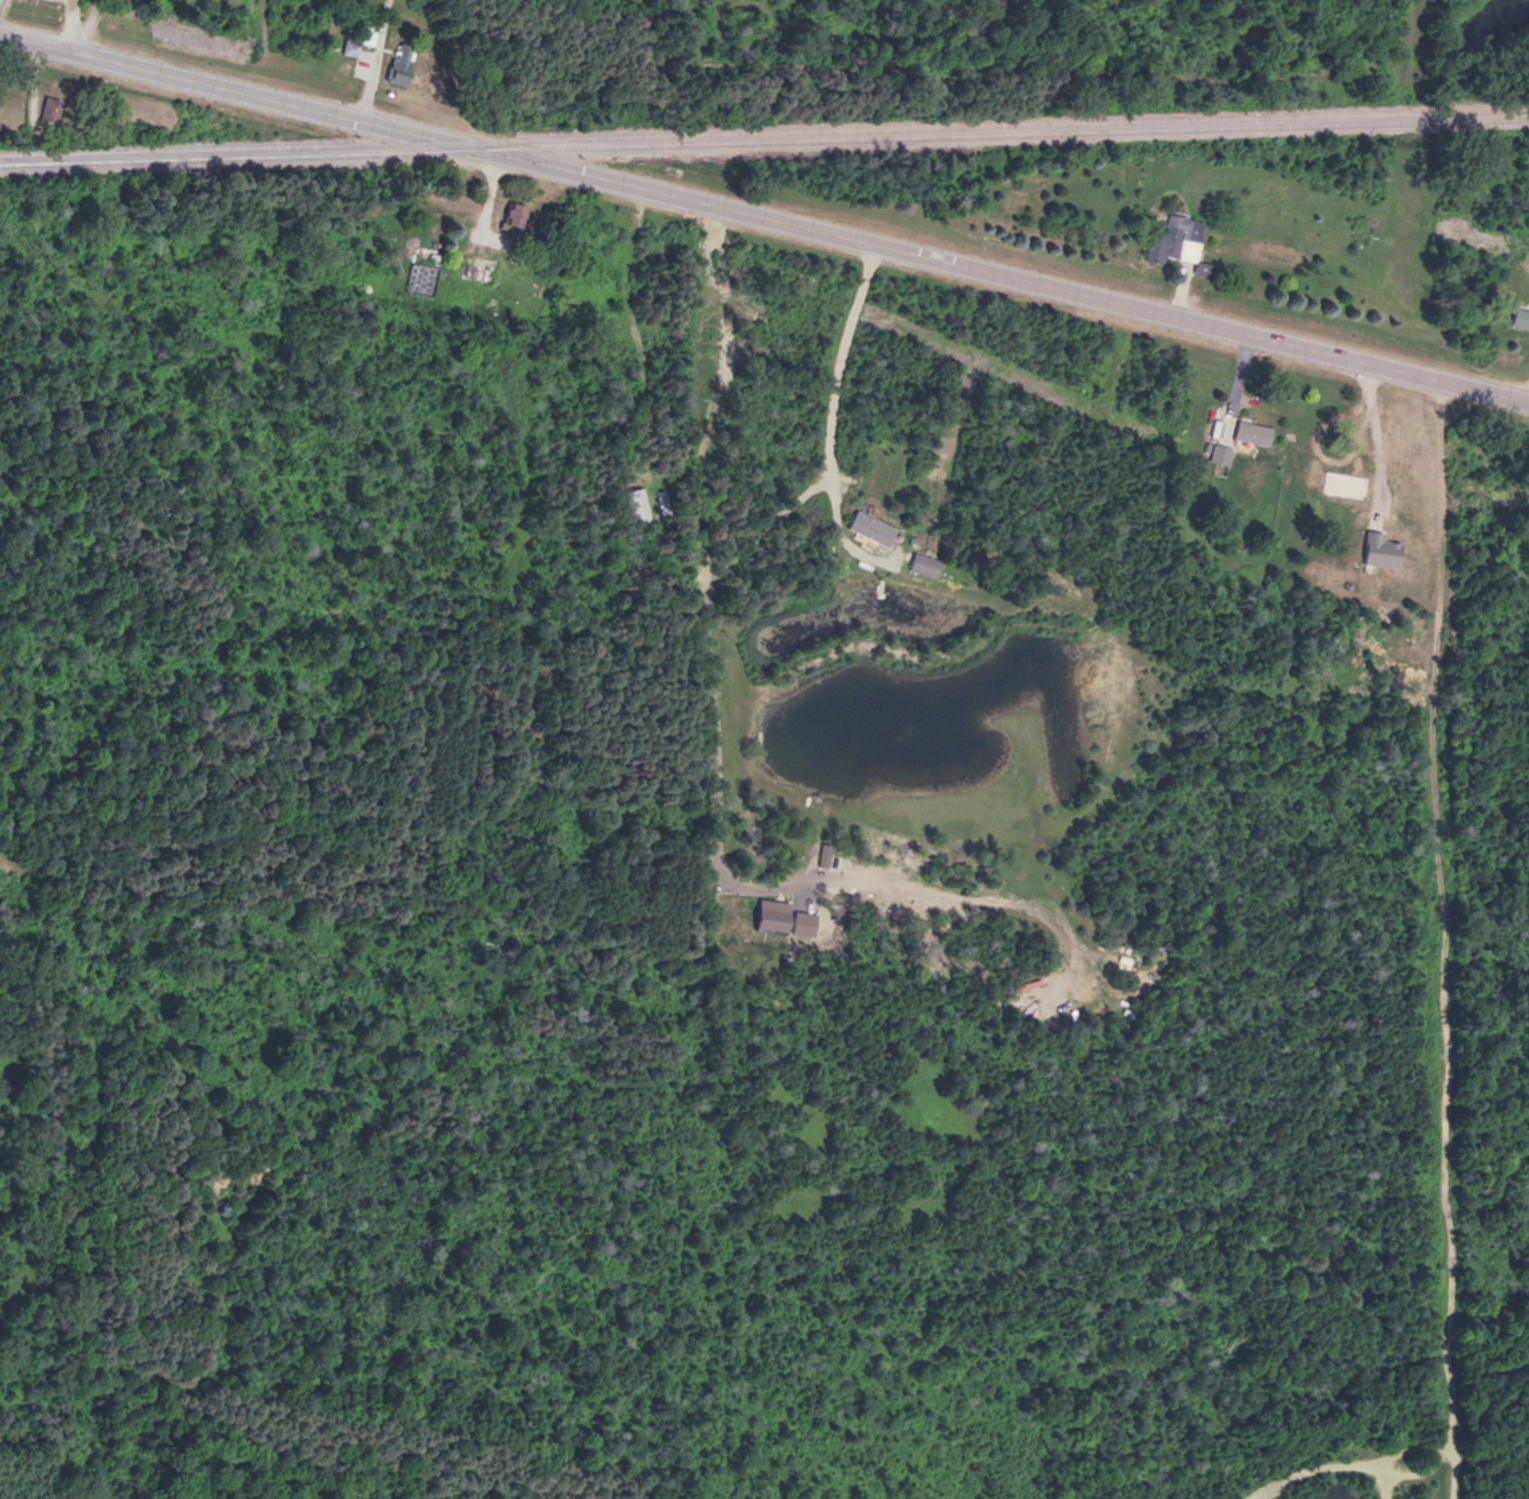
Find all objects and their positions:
road: (72, 29)
building: (403, 60)
building: (51, 106)
railway: (764, 132)
railway: (764, 143)
building: (518, 213)
road: (765, 218)
building: (1183, 235)
building: (1521, 313)
building: (1255, 431)
road: (1370, 439)
building: (1222, 452)
building: (1349, 480)
building: (631, 504)
building: (874, 527)
building: (1383, 548)
building: (926, 564)
road: (714, 574)

